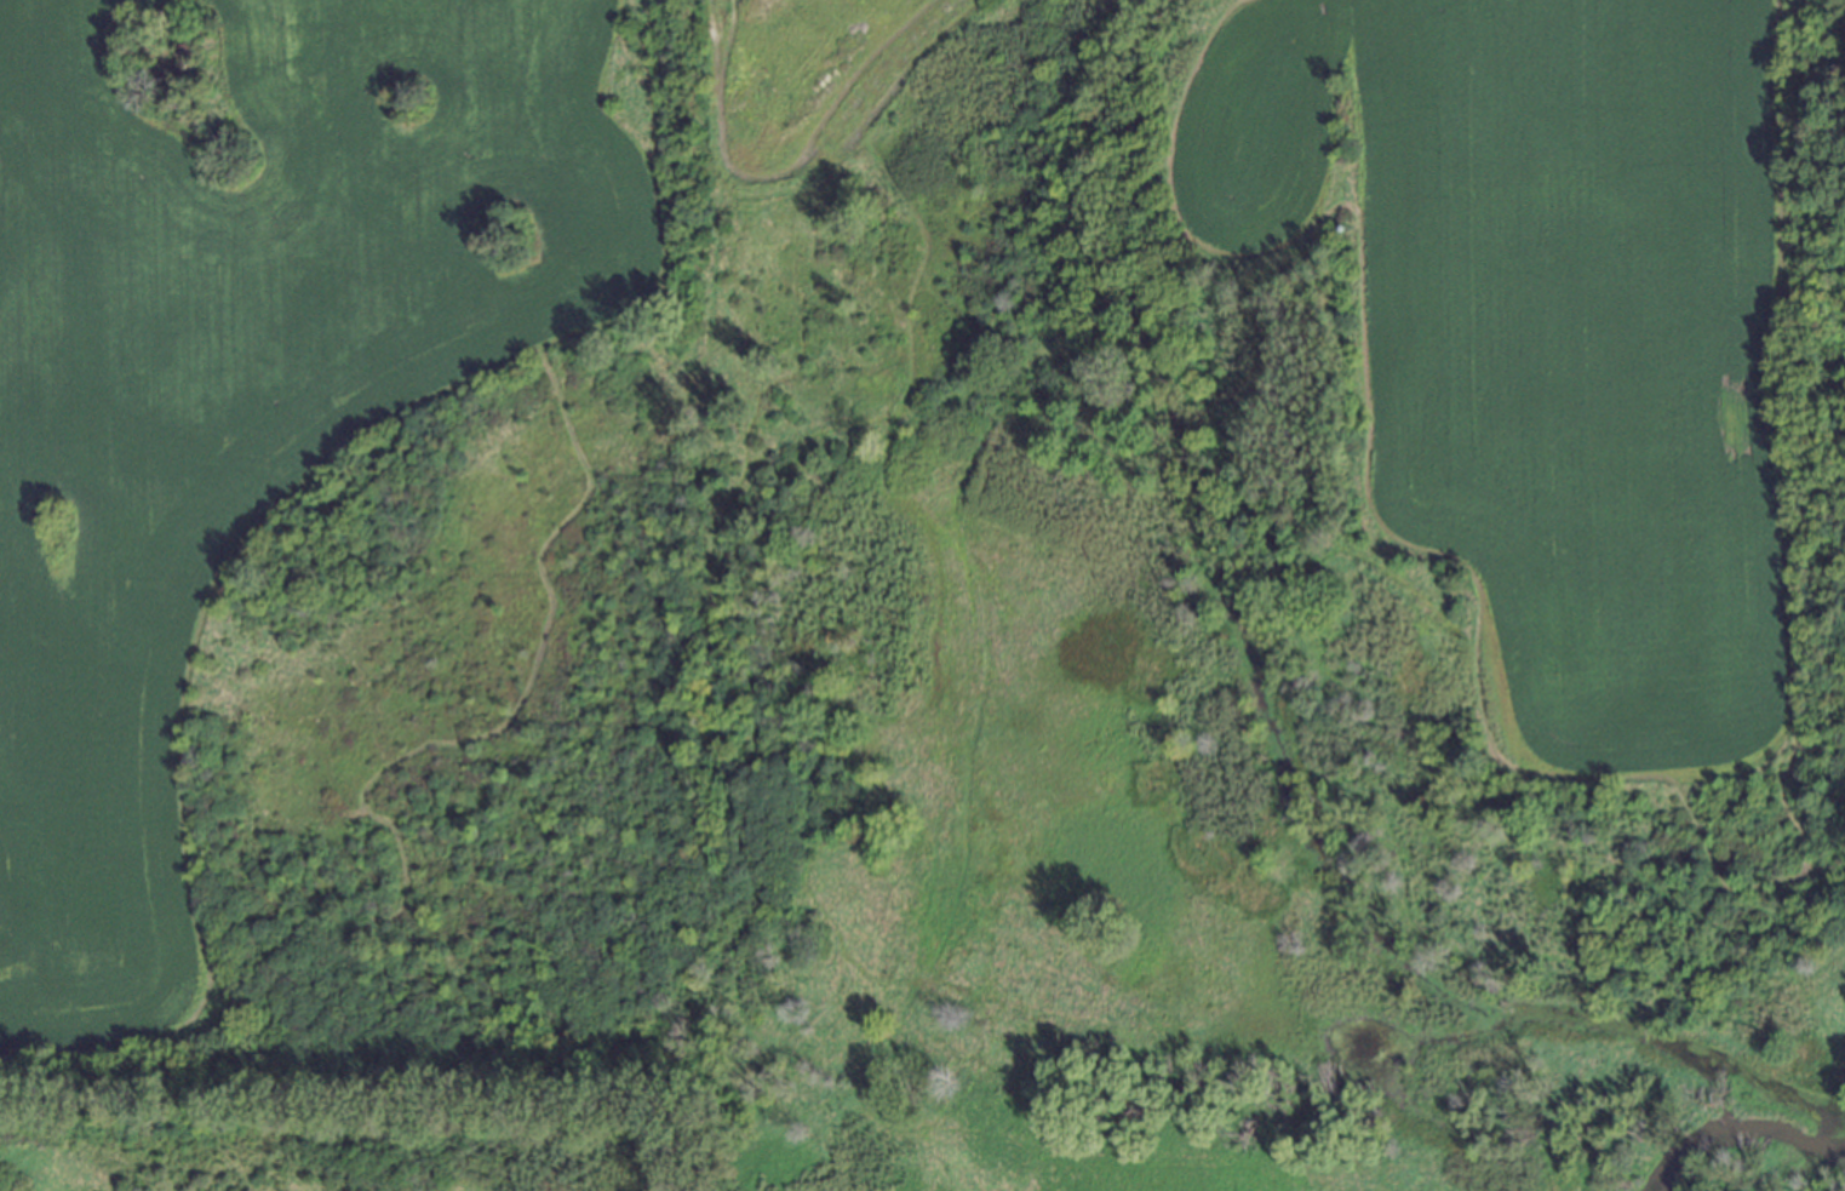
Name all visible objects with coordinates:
river: (1840, 1136)
river: (1737, 1141)

